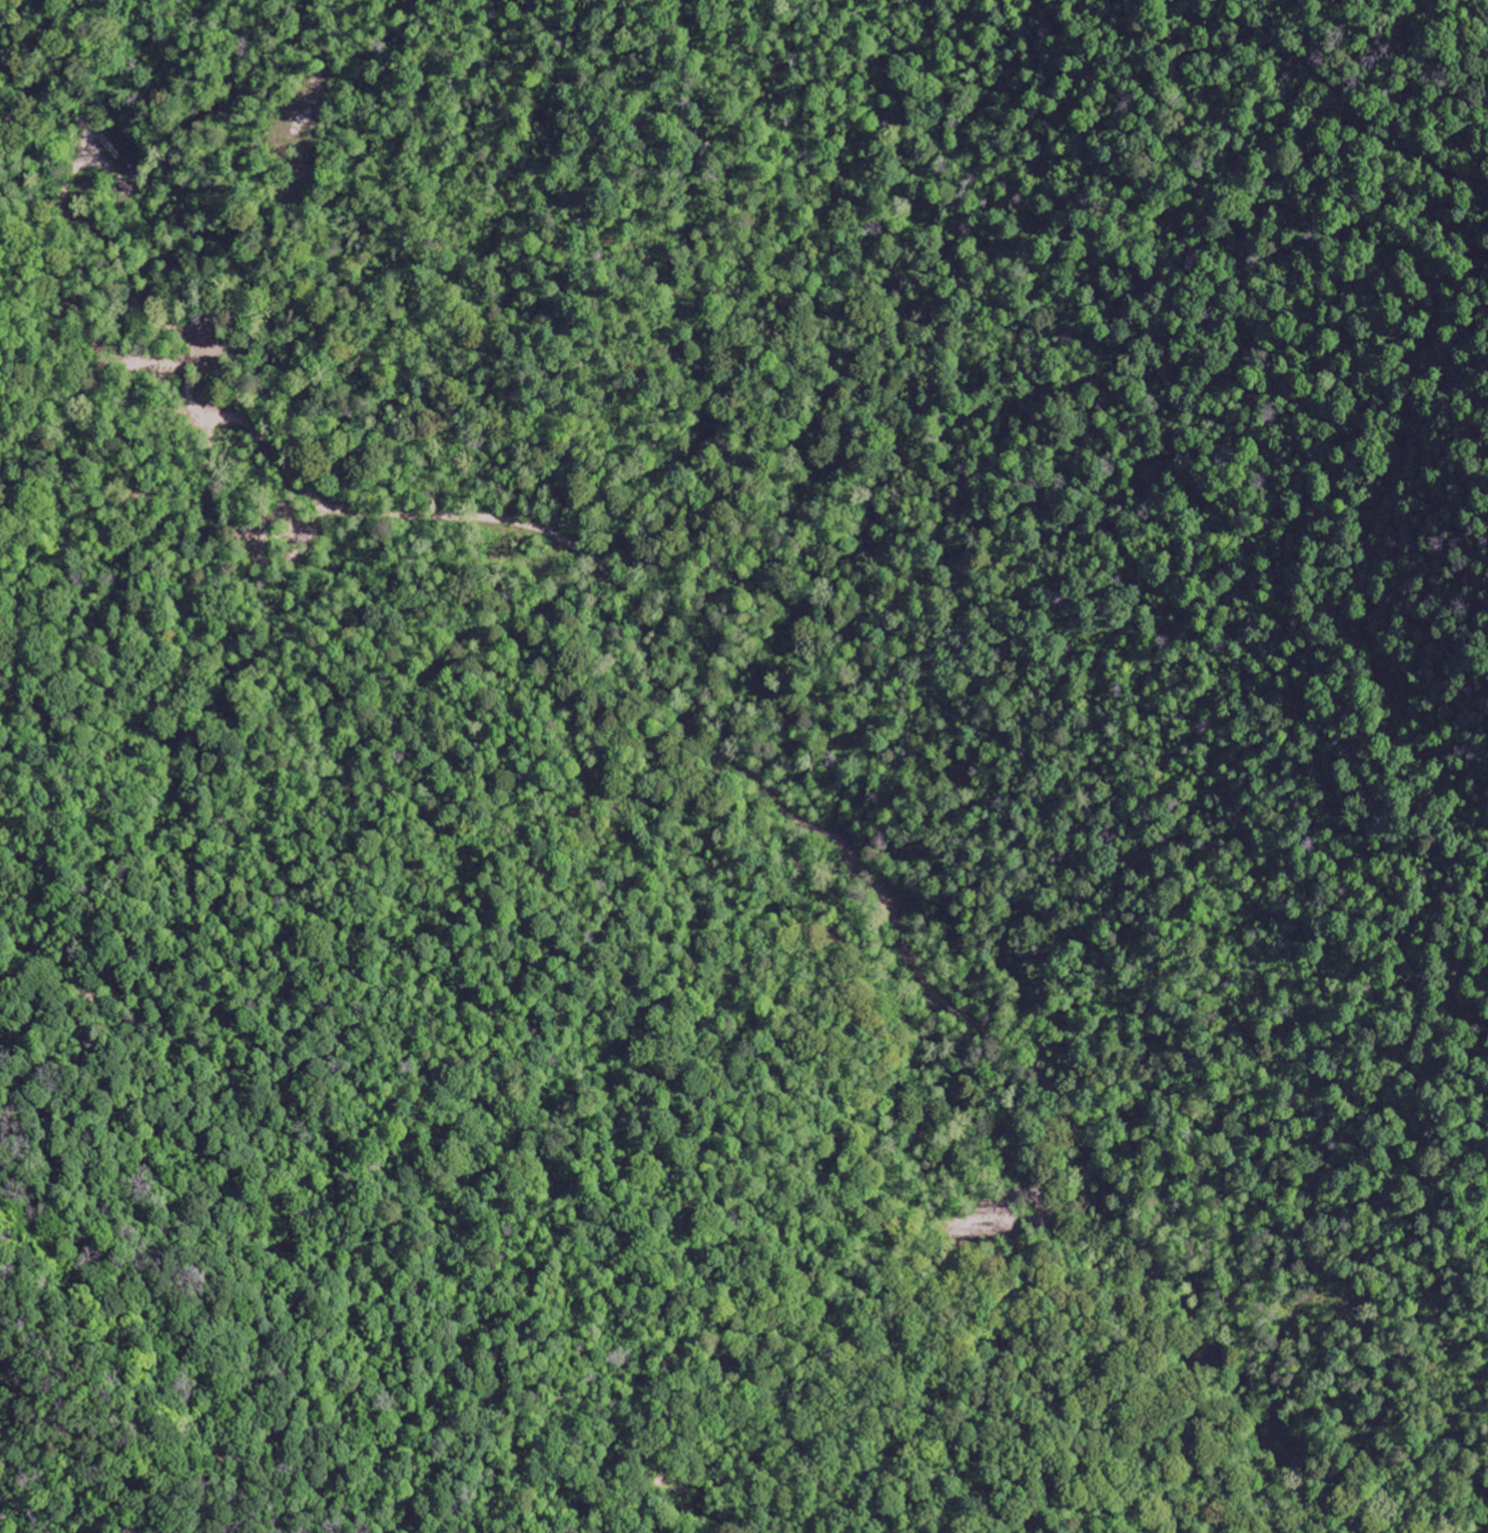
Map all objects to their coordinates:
road: (179, 291)
road: (922, 973)
road: (318, 1020)

